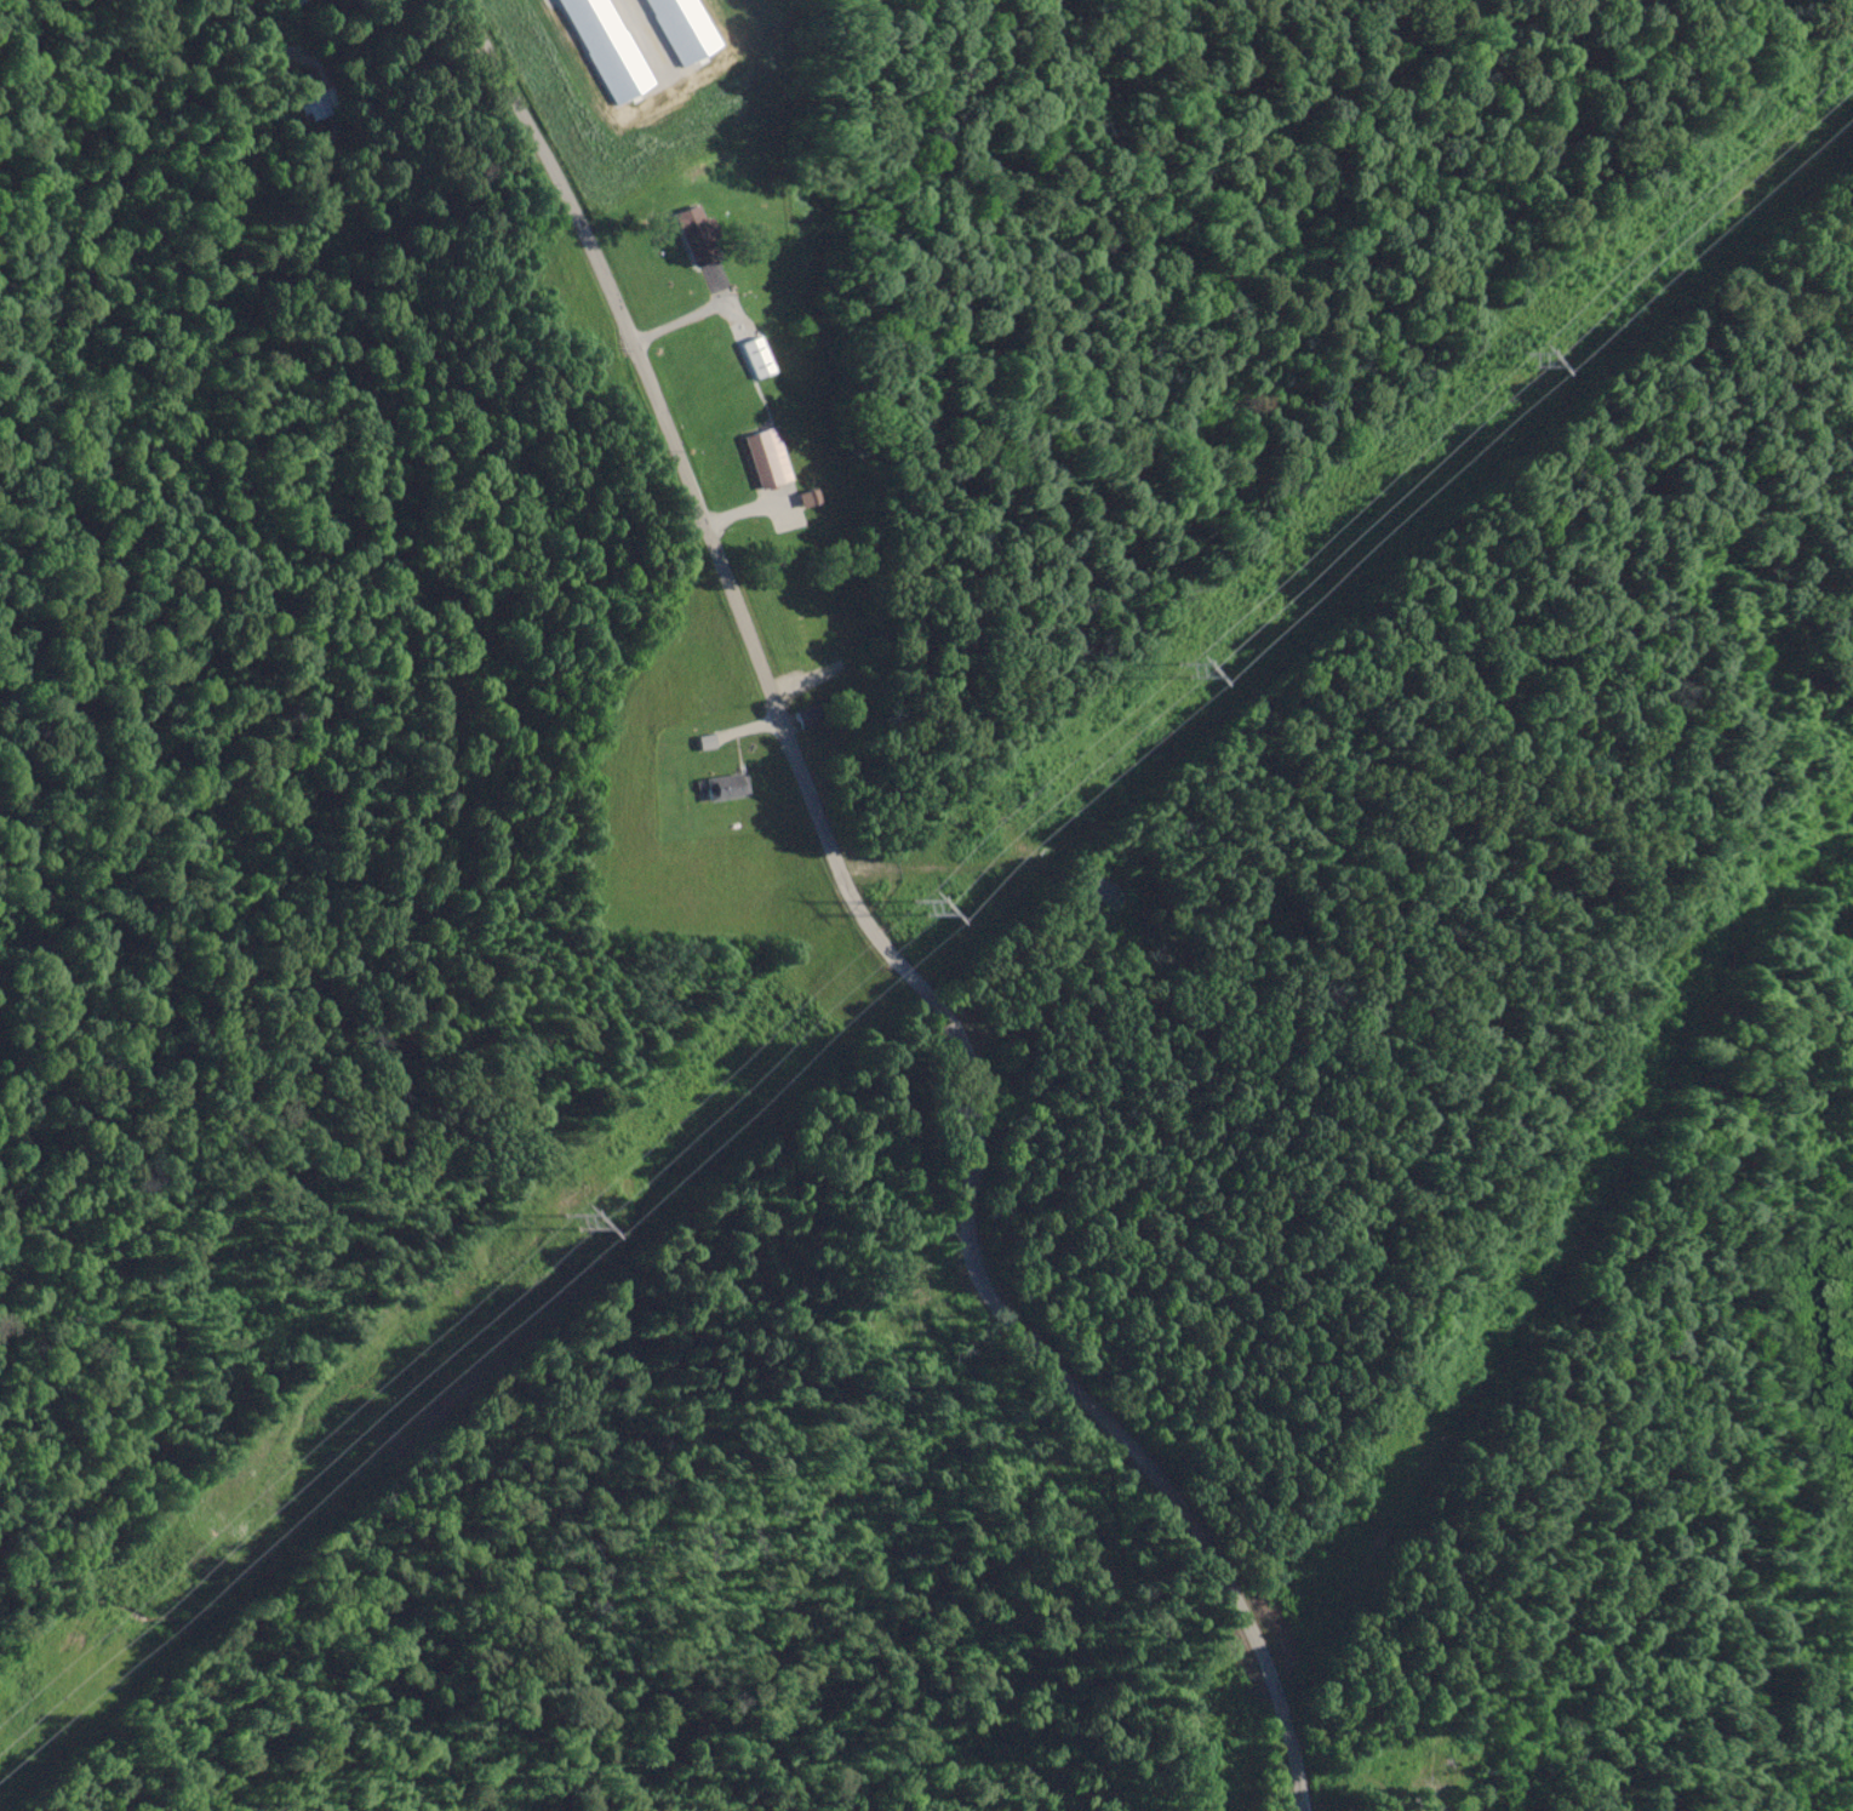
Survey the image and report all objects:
building: (313, 101)
building: (700, 235)
building: (757, 355)
power tower: (1527, 359)
building: (765, 452)
building: (805, 638)
power tower: (1188, 668)
building: (808, 715)
building: (725, 784)
road: (812, 802)
power tower: (925, 907)
power tower: (571, 1222)
road: (1264, 1674)
building: (1445, 1738)
road: (1432, 1799)

